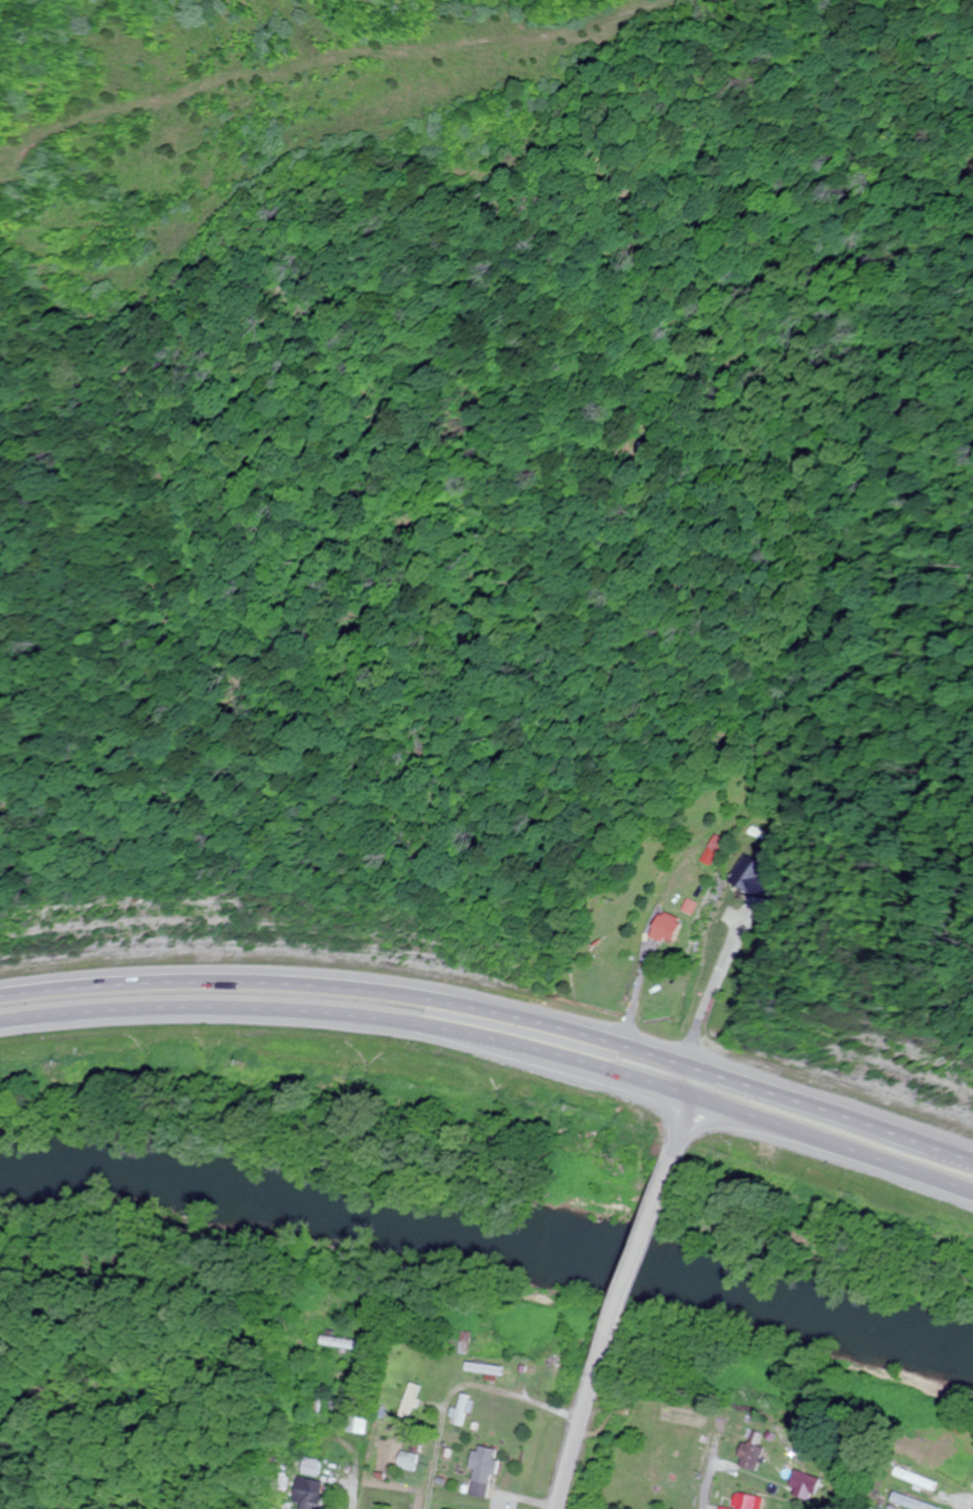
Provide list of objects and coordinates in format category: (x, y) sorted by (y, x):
building: (712, 851)
building: (754, 876)
building: (664, 928)
road: (497, 1010)
road: (497, 1044)
road: (687, 1113)
river: (490, 1241)
road: (627, 1264)
building: (466, 1342)
building: (344, 1343)
building: (489, 1369)
building: (415, 1398)
building: (318, 1400)
building: (360, 1409)
building: (466, 1409)
road: (576, 1441)
road: (359, 1445)
building: (754, 1456)
building: (408, 1460)
road: (439, 1461)
building: (313, 1466)
building: (485, 1470)
building: (919, 1479)
building: (808, 1481)
road: (710, 1485)
building: (309, 1493)
building: (751, 1502)
building: (914, 1502)
road: (972, 1507)
building: (726, 1508)

